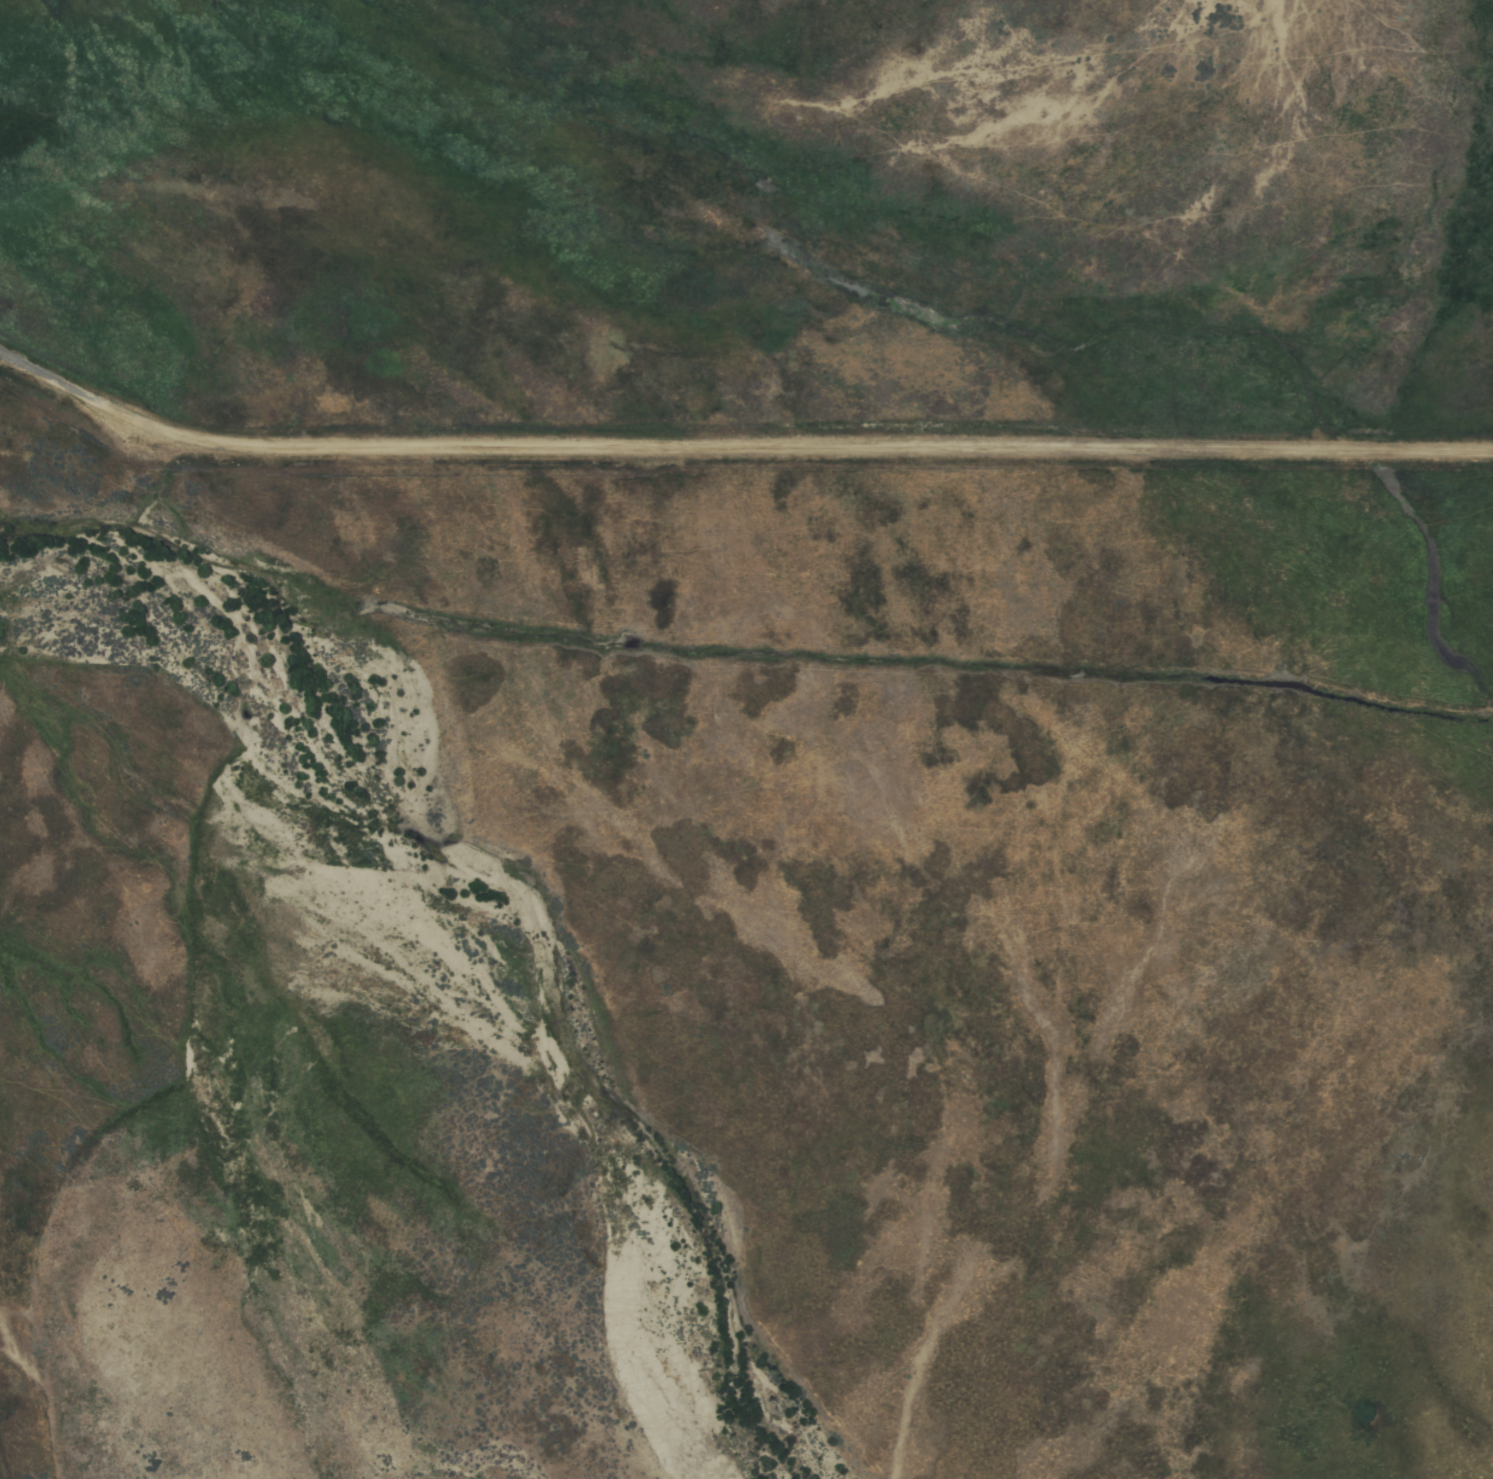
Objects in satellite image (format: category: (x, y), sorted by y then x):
road: (737, 445)
river: (512, 903)

